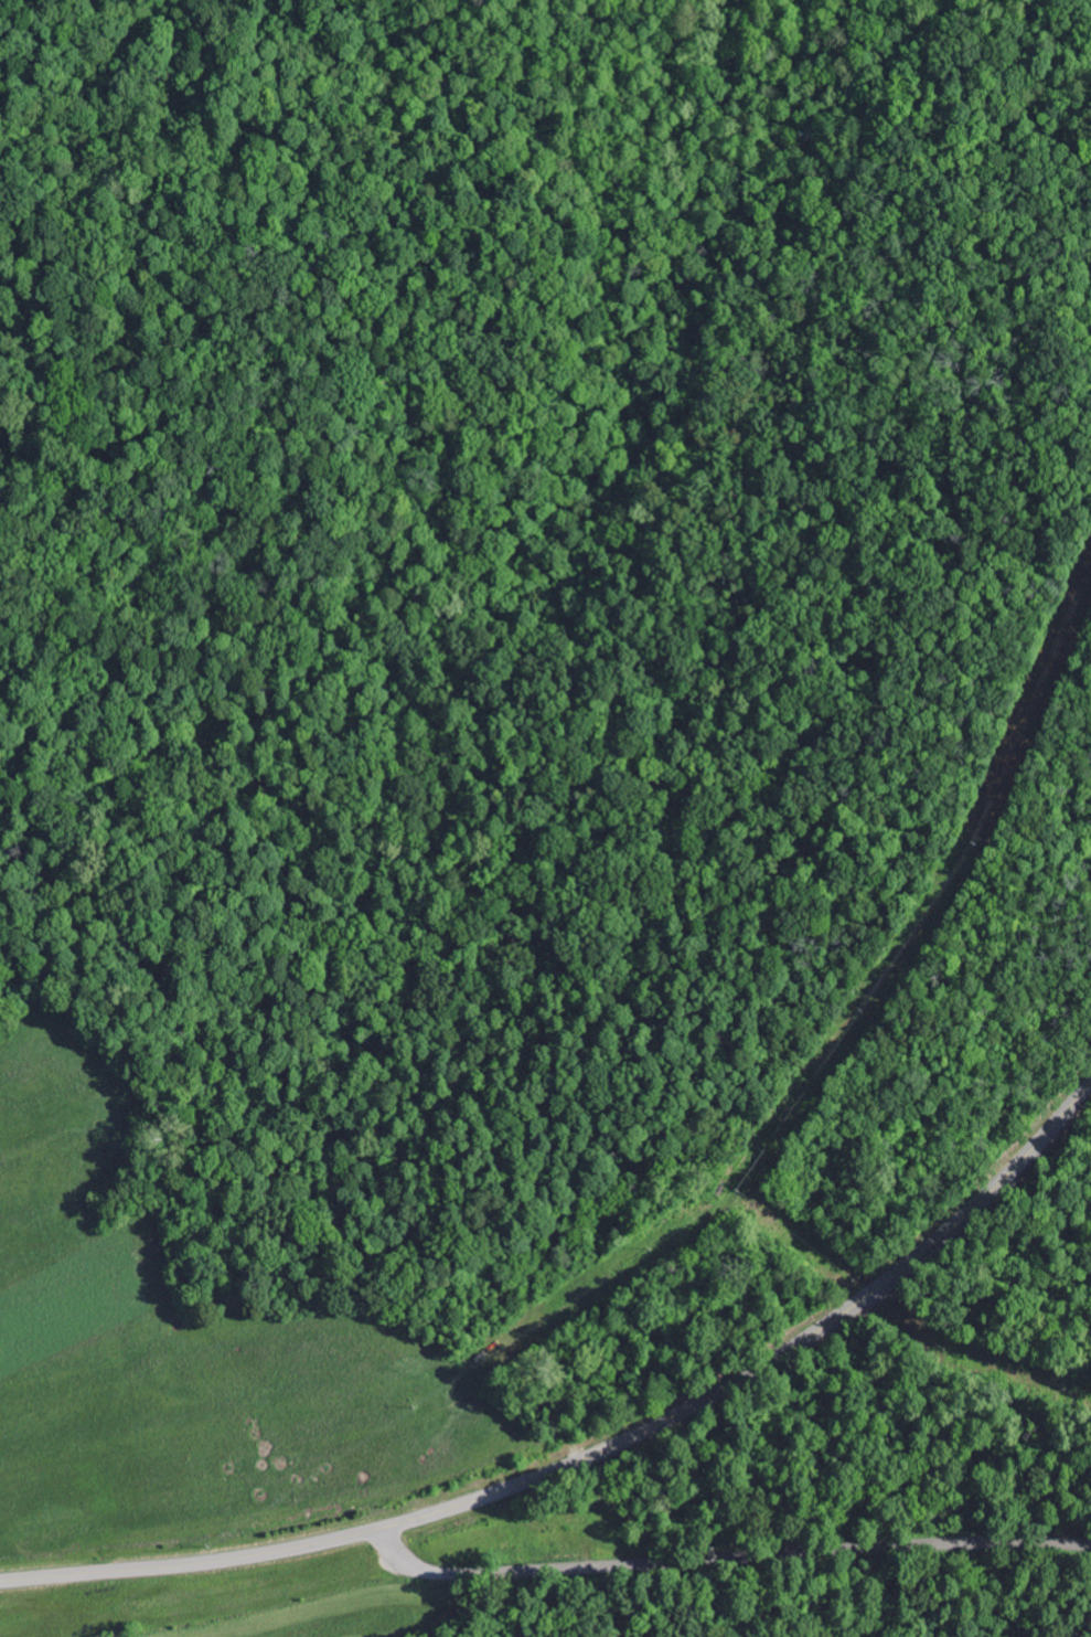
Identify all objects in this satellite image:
road: (600, 1448)
road: (725, 1553)

